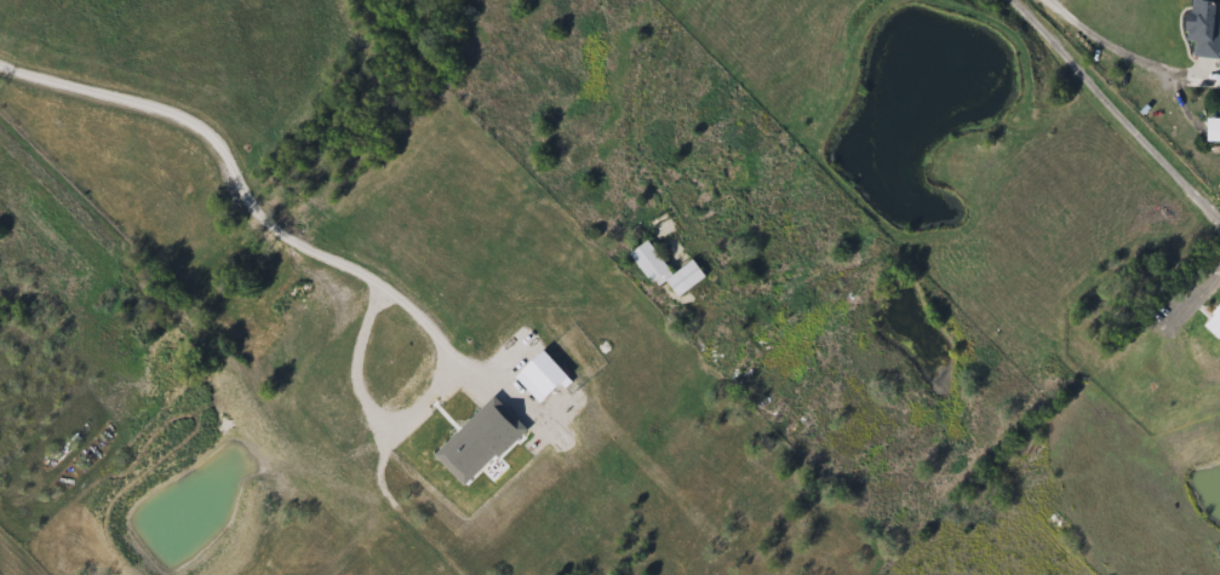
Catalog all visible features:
road: (1112, 41)
road: (641, 98)
road: (1113, 113)
road: (216, 138)
building: (659, 229)
building: (664, 271)
road: (411, 415)

